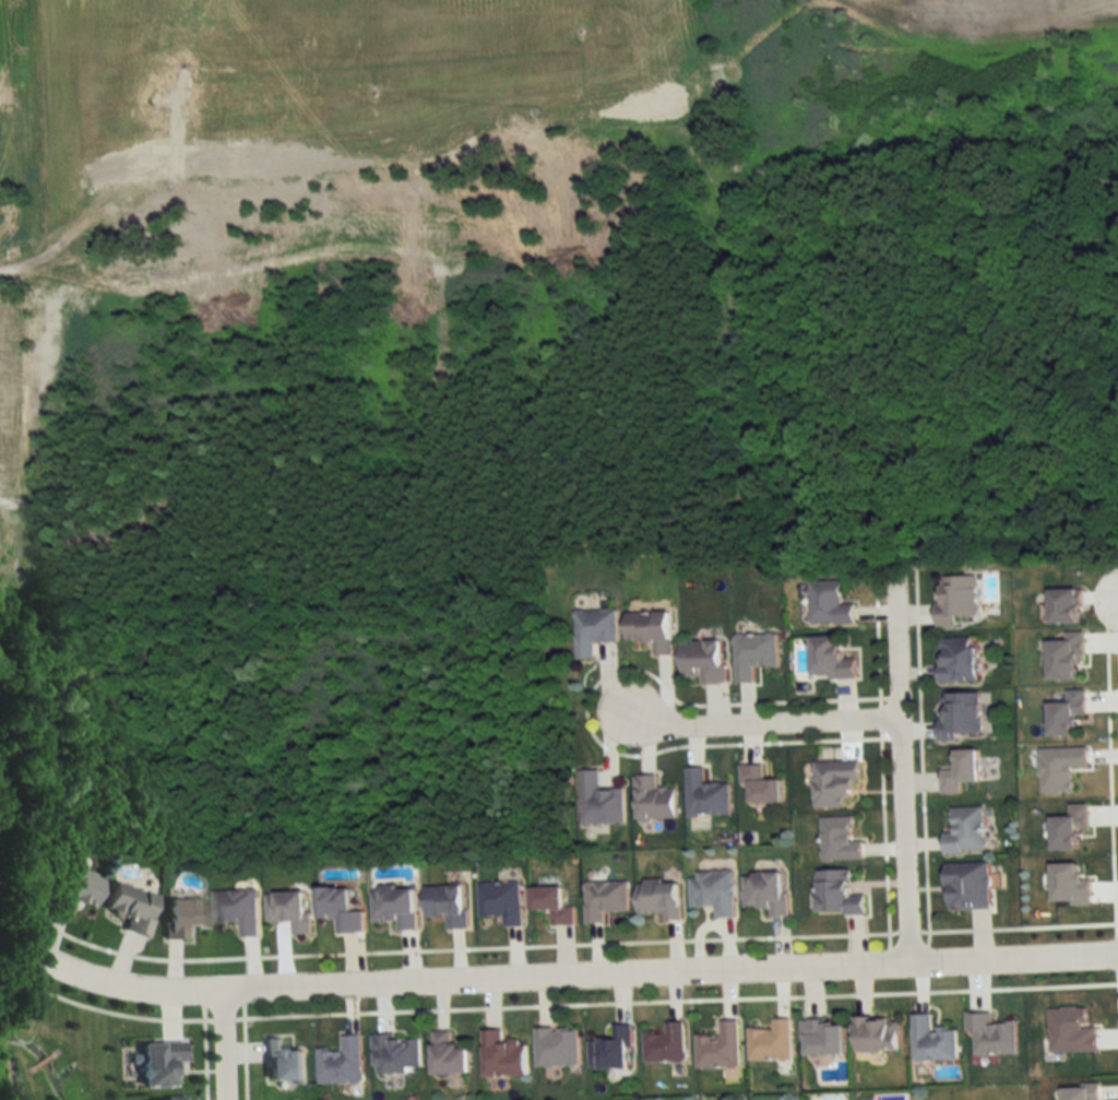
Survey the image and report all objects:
crop: (994, 12)
building: (956, 598)
building: (829, 604)
building: (593, 629)
building: (651, 629)
building: (754, 653)
building: (1066, 657)
building: (830, 659)
building: (958, 659)
building: (703, 660)
building: (1068, 712)
building: (961, 713)
road: (754, 722)
building: (1061, 767)
road: (899, 769)
building: (962, 770)
building: (835, 782)
building: (761, 784)
building: (706, 794)
building: (655, 799)
building: (600, 800)
building: (1071, 826)
building: (968, 830)
building: (841, 839)
building: (1071, 884)
building: (970, 885)
building: (72, 888)
building: (715, 890)
building: (768, 890)
building: (838, 892)
building: (606, 898)
building: (659, 898)
building: (502, 900)
building: (449, 903)
building: (554, 903)
building: (396, 904)
building: (124, 907)
building: (341, 908)
building: (238, 909)
building: (290, 909)
building: (178, 915)
road: (572, 974)
building: (877, 1033)
building: (991, 1034)
building: (823, 1037)
building: (932, 1040)
building: (771, 1041)
building: (666, 1043)
road: (222, 1045)
building: (558, 1046)
building: (719, 1046)
building: (612, 1049)
building: (396, 1054)
building: (449, 1055)
building: (503, 1055)
building: (153, 1062)
building: (343, 1062)
building: (281, 1063)
building: (1079, 1092)
building: (162, 1099)

